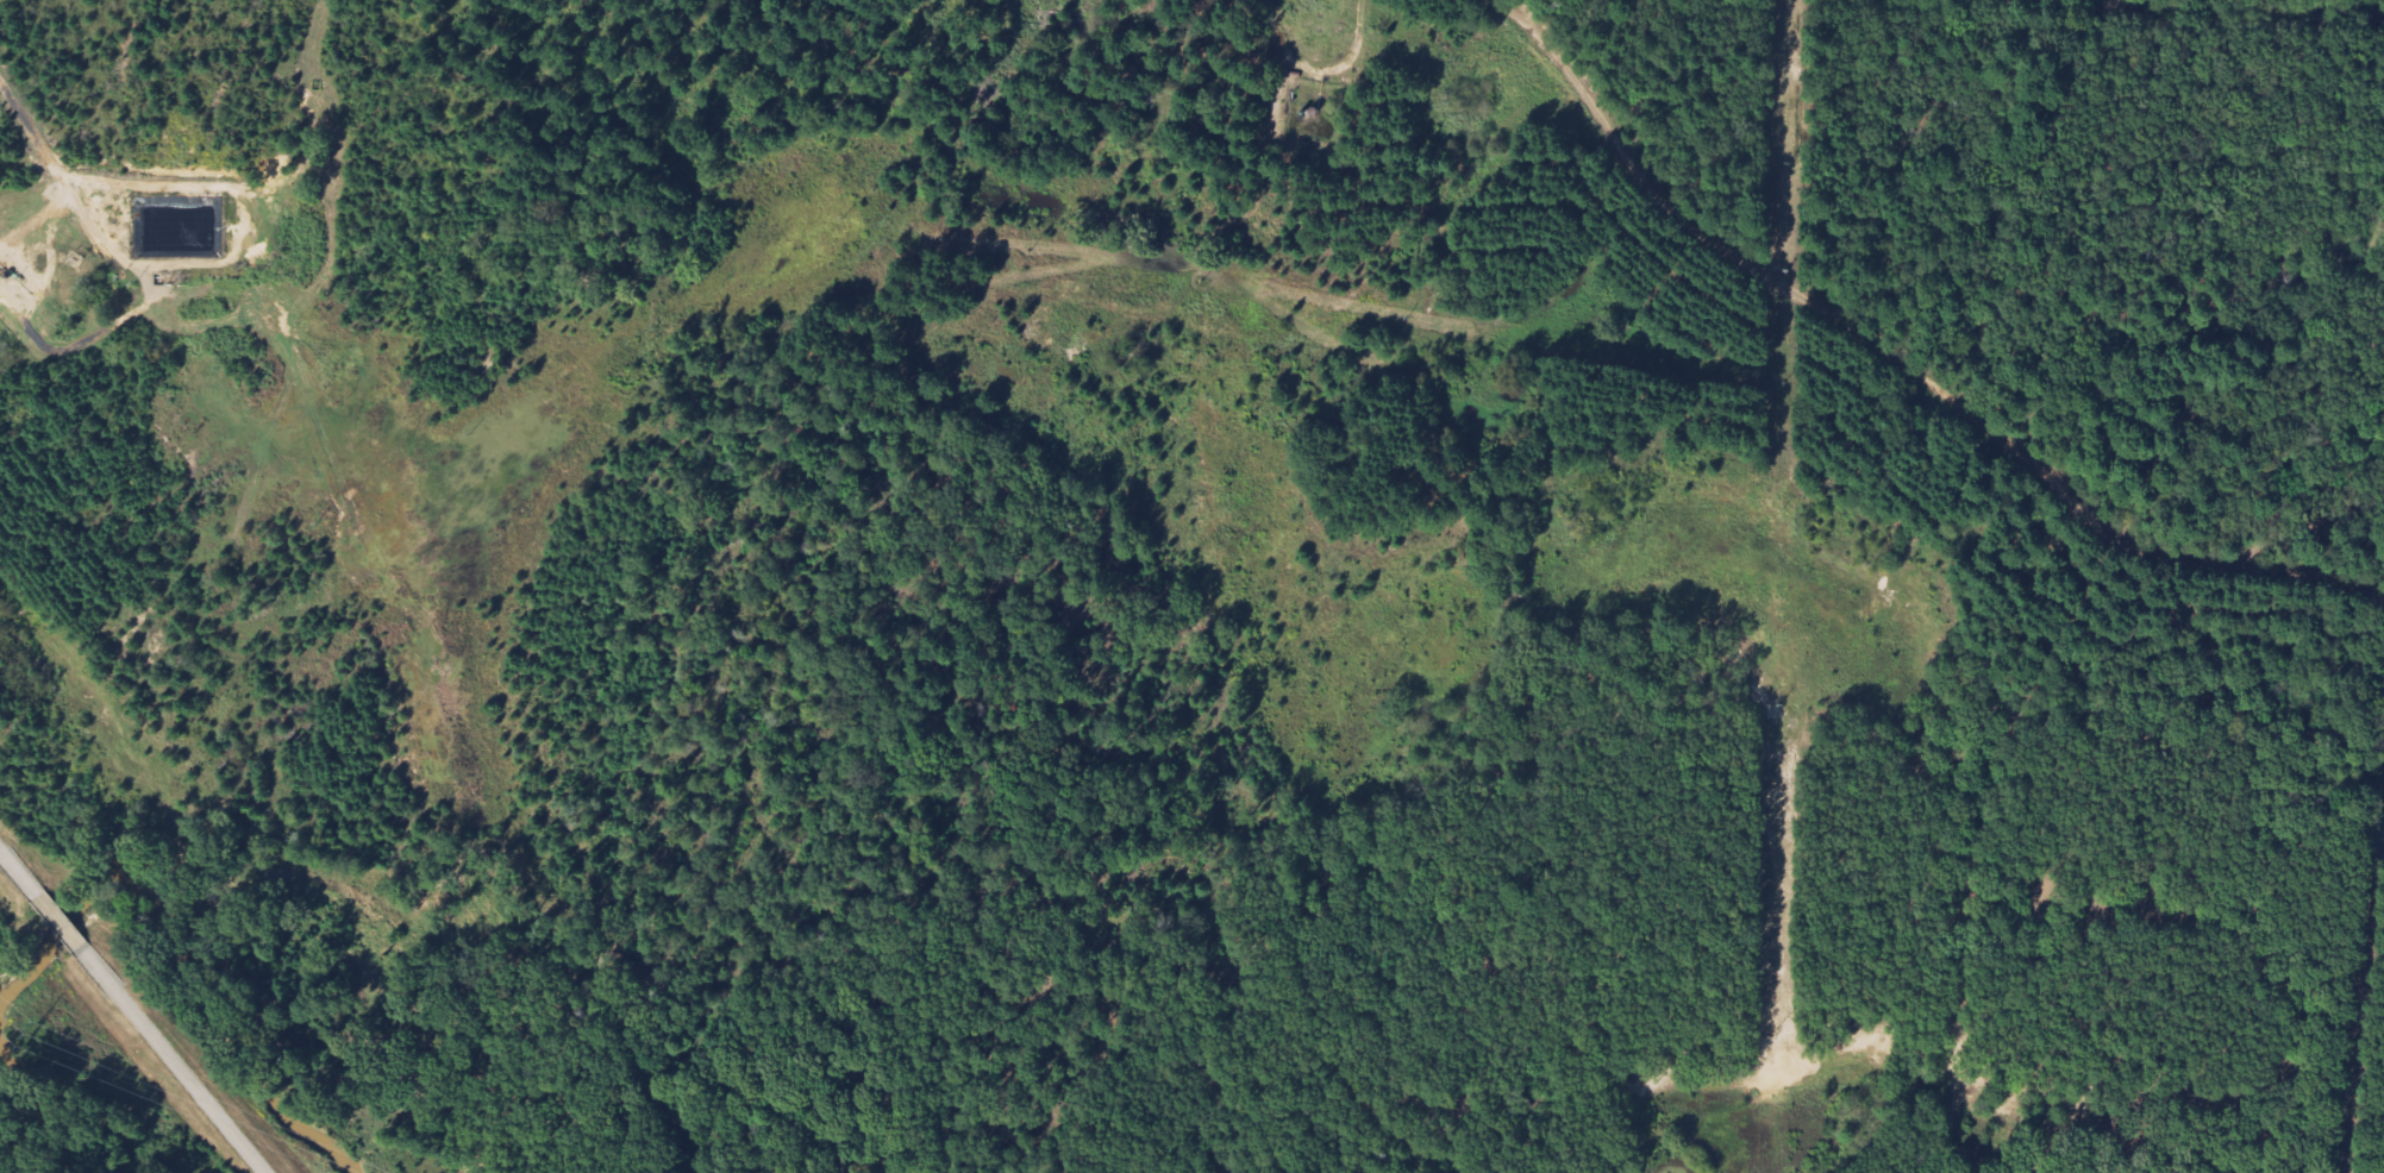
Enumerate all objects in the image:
road: (148, 183)
road: (71, 189)
road: (37, 221)
road: (1898, 368)
road: (18, 874)
road: (58, 922)
power tower: (32, 1035)
road: (171, 1060)

